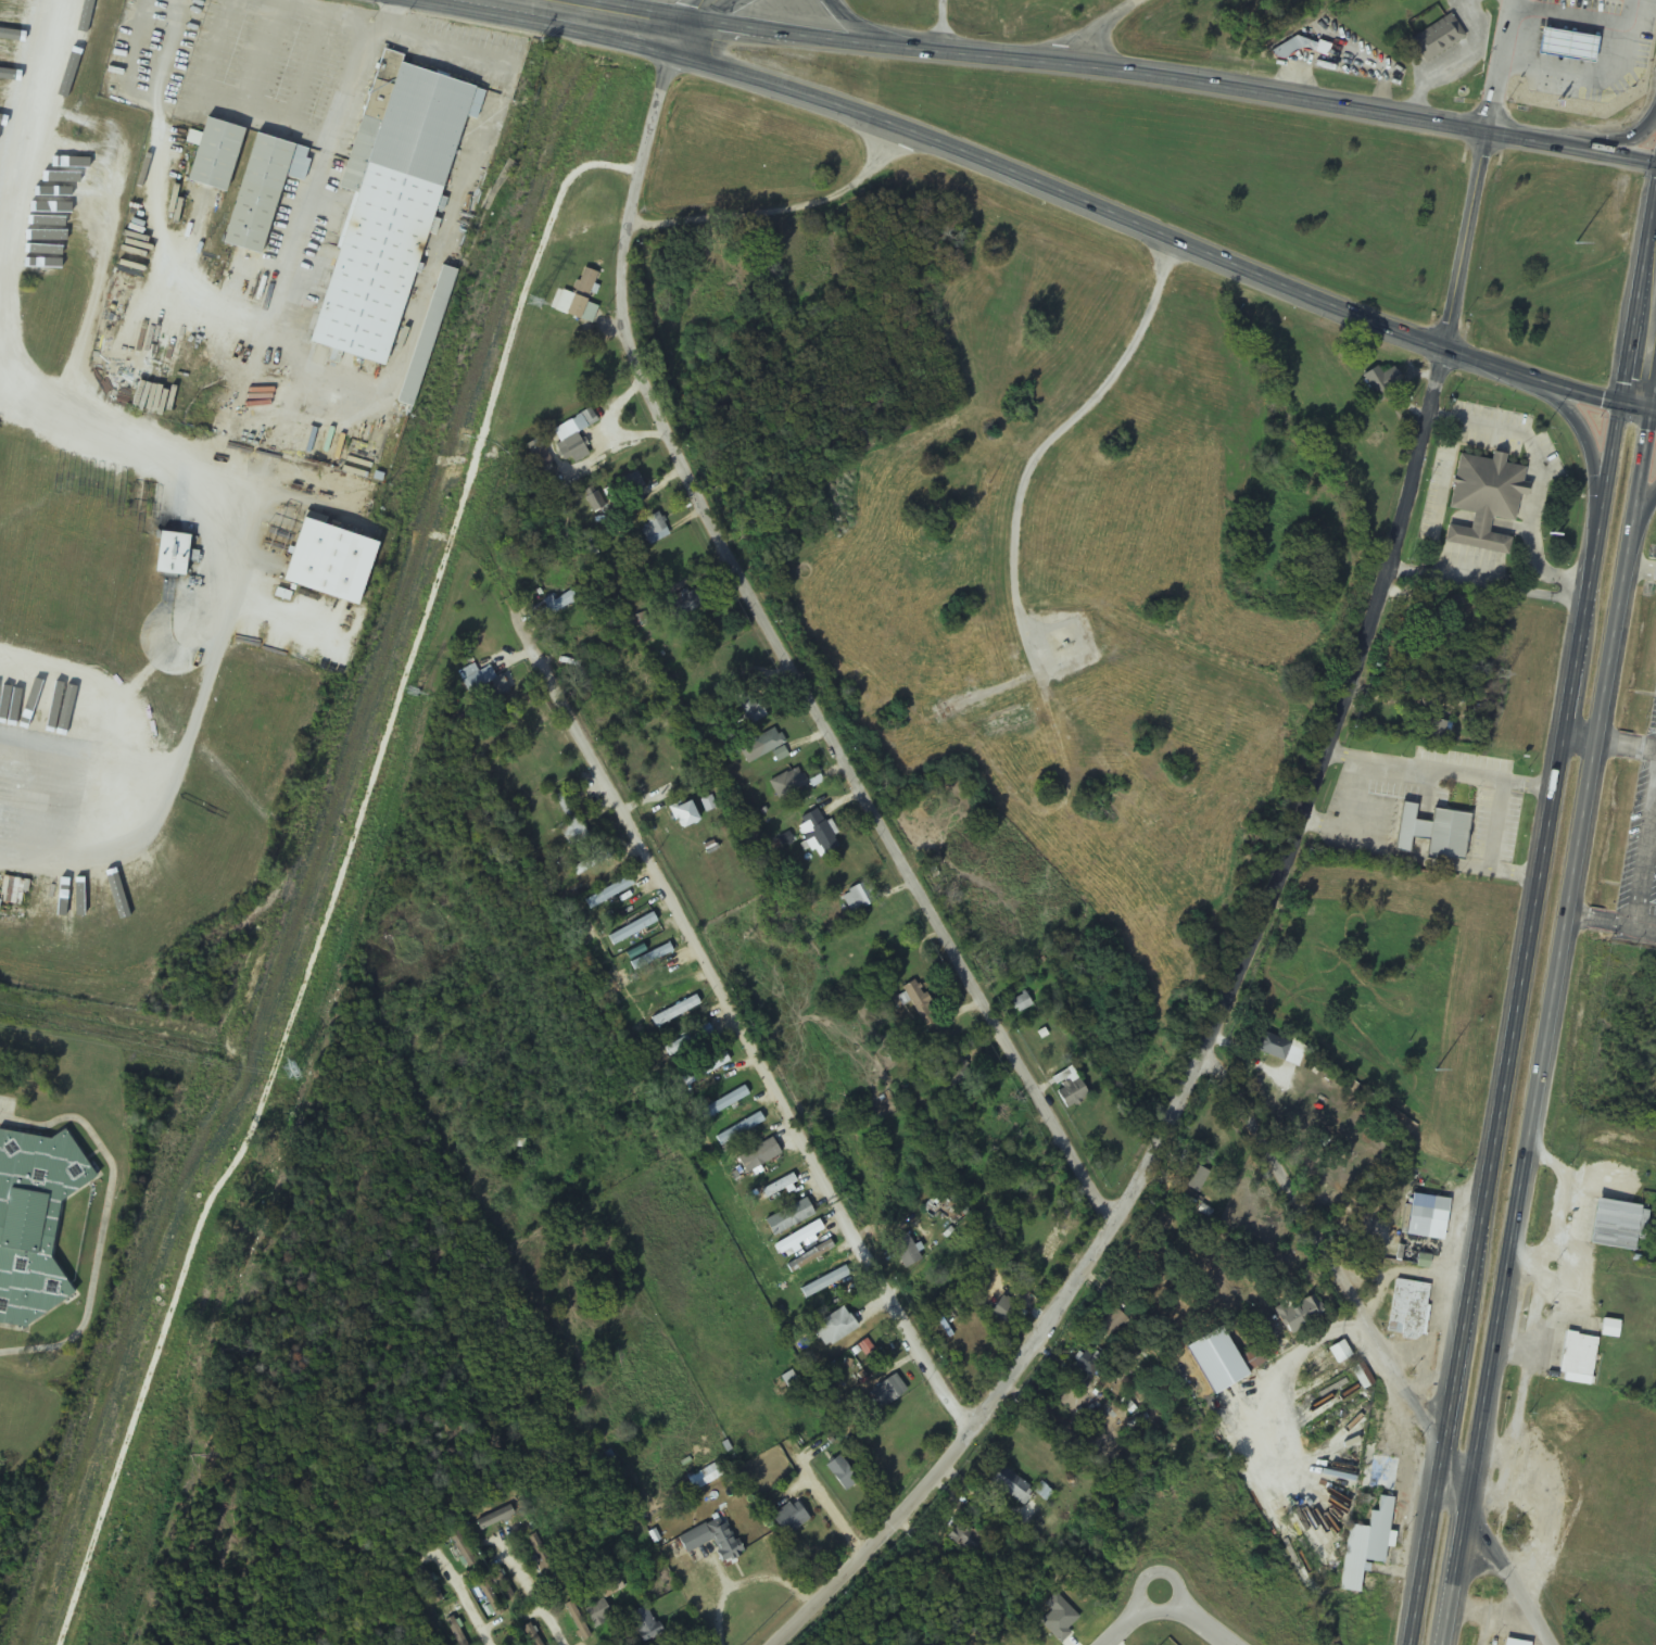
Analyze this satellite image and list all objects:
road: (696, 9)
road: (848, 20)
road: (1098, 29)
road: (678, 36)
building: (1437, 38)
building: (1532, 45)
building: (1290, 48)
building: (1606, 48)
building: (1560, 68)
road: (1122, 73)
road: (1611, 142)
building: (218, 153)
building: (74, 160)
road: (1024, 174)
building: (265, 189)
building: (392, 203)
road: (782, 211)
building: (52, 212)
building: (52, 244)
power tower: (1576, 245)
power tower: (538, 300)
building: (576, 300)
building: (428, 337)
building: (1380, 382)
traffic signals: (1623, 404)
road: (1640, 406)
traffic signals: (1654, 408)
power tower: (1544, 430)
building: (572, 438)
road: (1590, 445)
building: (631, 483)
building: (1483, 501)
building: (595, 502)
road: (1643, 521)
building: (655, 531)
building: (175, 553)
building: (333, 560)
building: (685, 604)
building: (558, 605)
building: (1426, 619)
building: (1065, 646)
road: (787, 660)
power tower: (1502, 678)
building: (485, 686)
power tower: (412, 694)
building: (746, 708)
building: (1438, 732)
building: (766, 743)
road: (1562, 757)
building: (788, 784)
building: (683, 815)
railway: (315, 820)
building: (569, 823)
building: (814, 834)
building: (1431, 834)
building: (593, 862)
road: (1276, 886)
building: (609, 894)
building: (858, 899)
building: (632, 931)
building: (652, 958)
building: (1022, 1003)
road: (1551, 1020)
road: (745, 1035)
building: (687, 1040)
building: (1278, 1050)
building: (705, 1070)
power tower: (1437, 1071)
power tower: (290, 1073)
building: (953, 1073)
building: (1069, 1089)
building: (723, 1103)
building: (738, 1129)
building: (758, 1155)
building: (1194, 1179)
building: (771, 1190)
building: (996, 1195)
building: (1423, 1216)
building: (788, 1218)
building: (36, 1220)
building: (1616, 1225)
building: (798, 1238)
building: (905, 1251)
building: (810, 1257)
building: (824, 1282)
building: (1407, 1309)
building: (1006, 1312)
building: (1299, 1315)
building: (1110, 1323)
building: (833, 1328)
road: (1381, 1345)
building: (1577, 1359)
building: (1089, 1364)
building: (1225, 1378)
building: (887, 1392)
building: (1329, 1393)
building: (1228, 1418)
building: (1564, 1425)
building: (1263, 1440)
building: (842, 1473)
building: (1380, 1473)
building: (705, 1478)
road: (1438, 1479)
building: (1011, 1485)
power tower: (1363, 1501)
building: (495, 1518)
building: (788, 1518)
building: (454, 1535)
building: (965, 1539)
building: (711, 1540)
building: (1365, 1545)
building: (500, 1584)
building: (428, 1585)
road: (1175, 1602)
building: (597, 1614)
building: (576, 1621)
building: (643, 1624)
building: (524, 1629)
building: (454, 1632)

